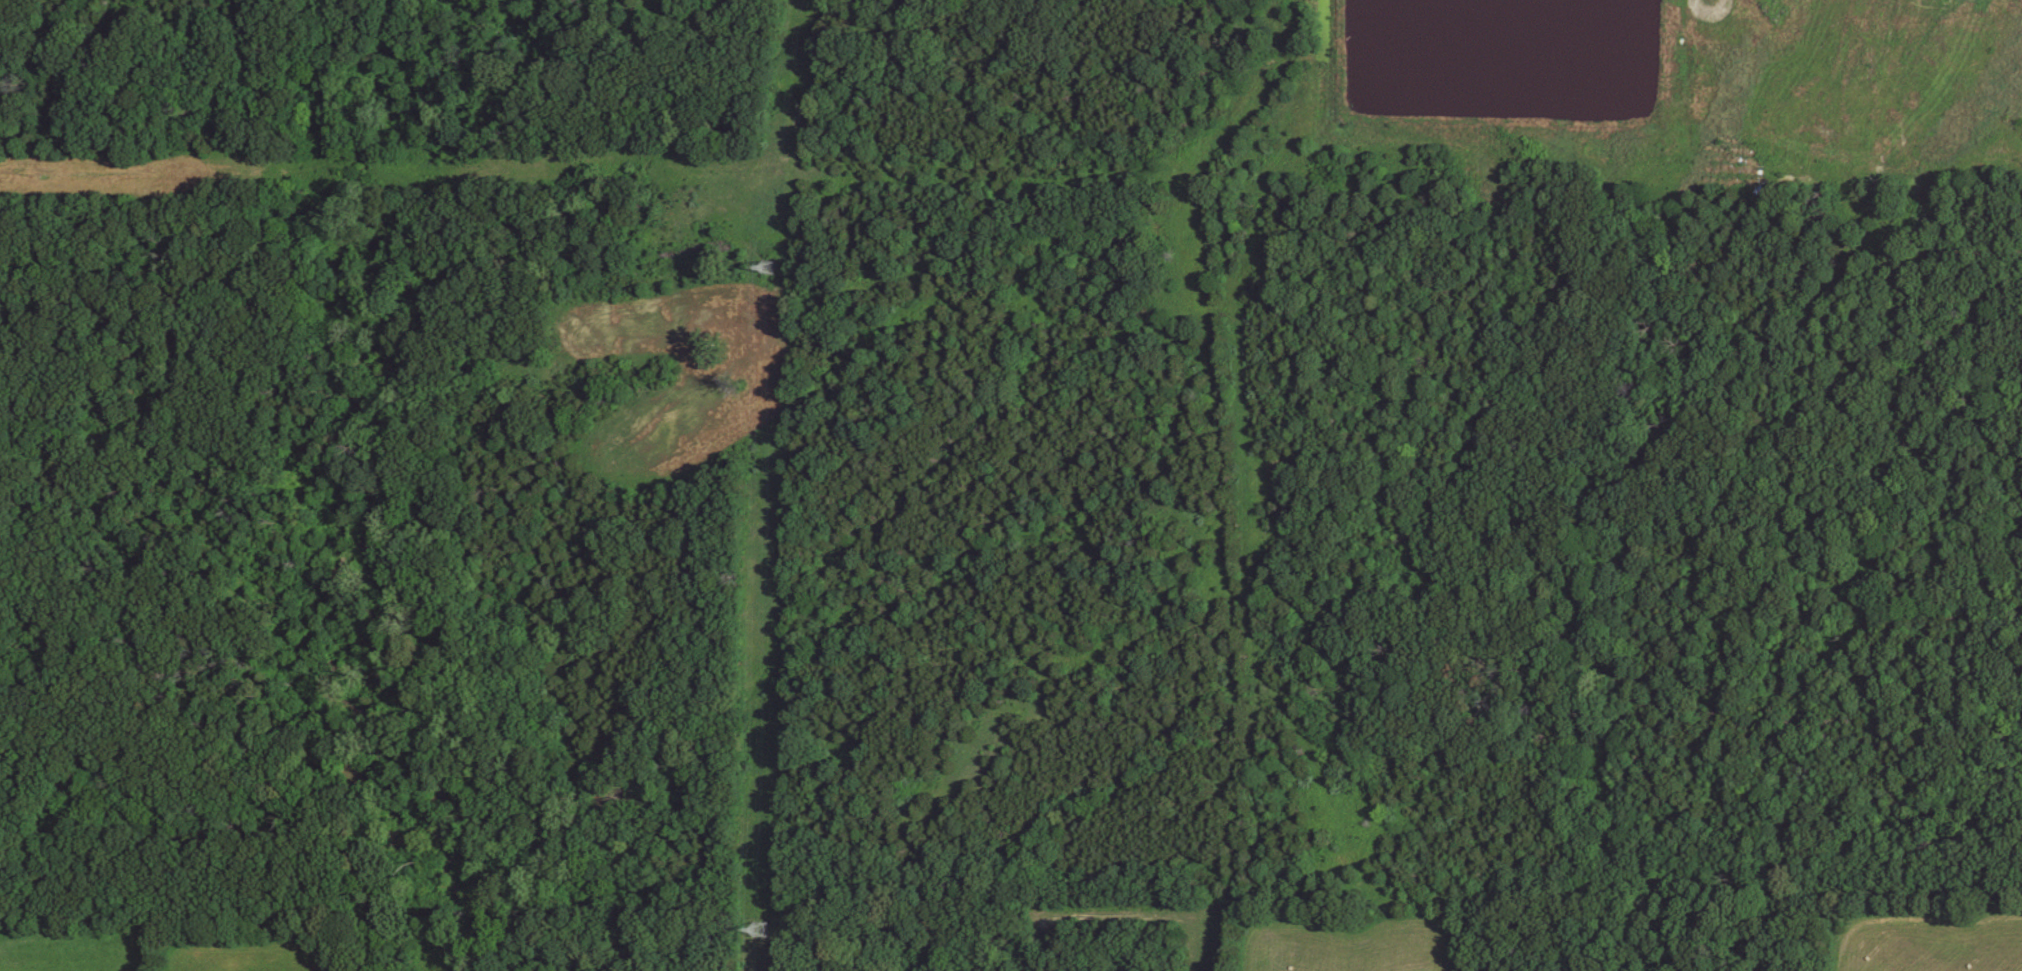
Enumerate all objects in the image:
power tower: (765, 265)
power tower: (760, 931)

